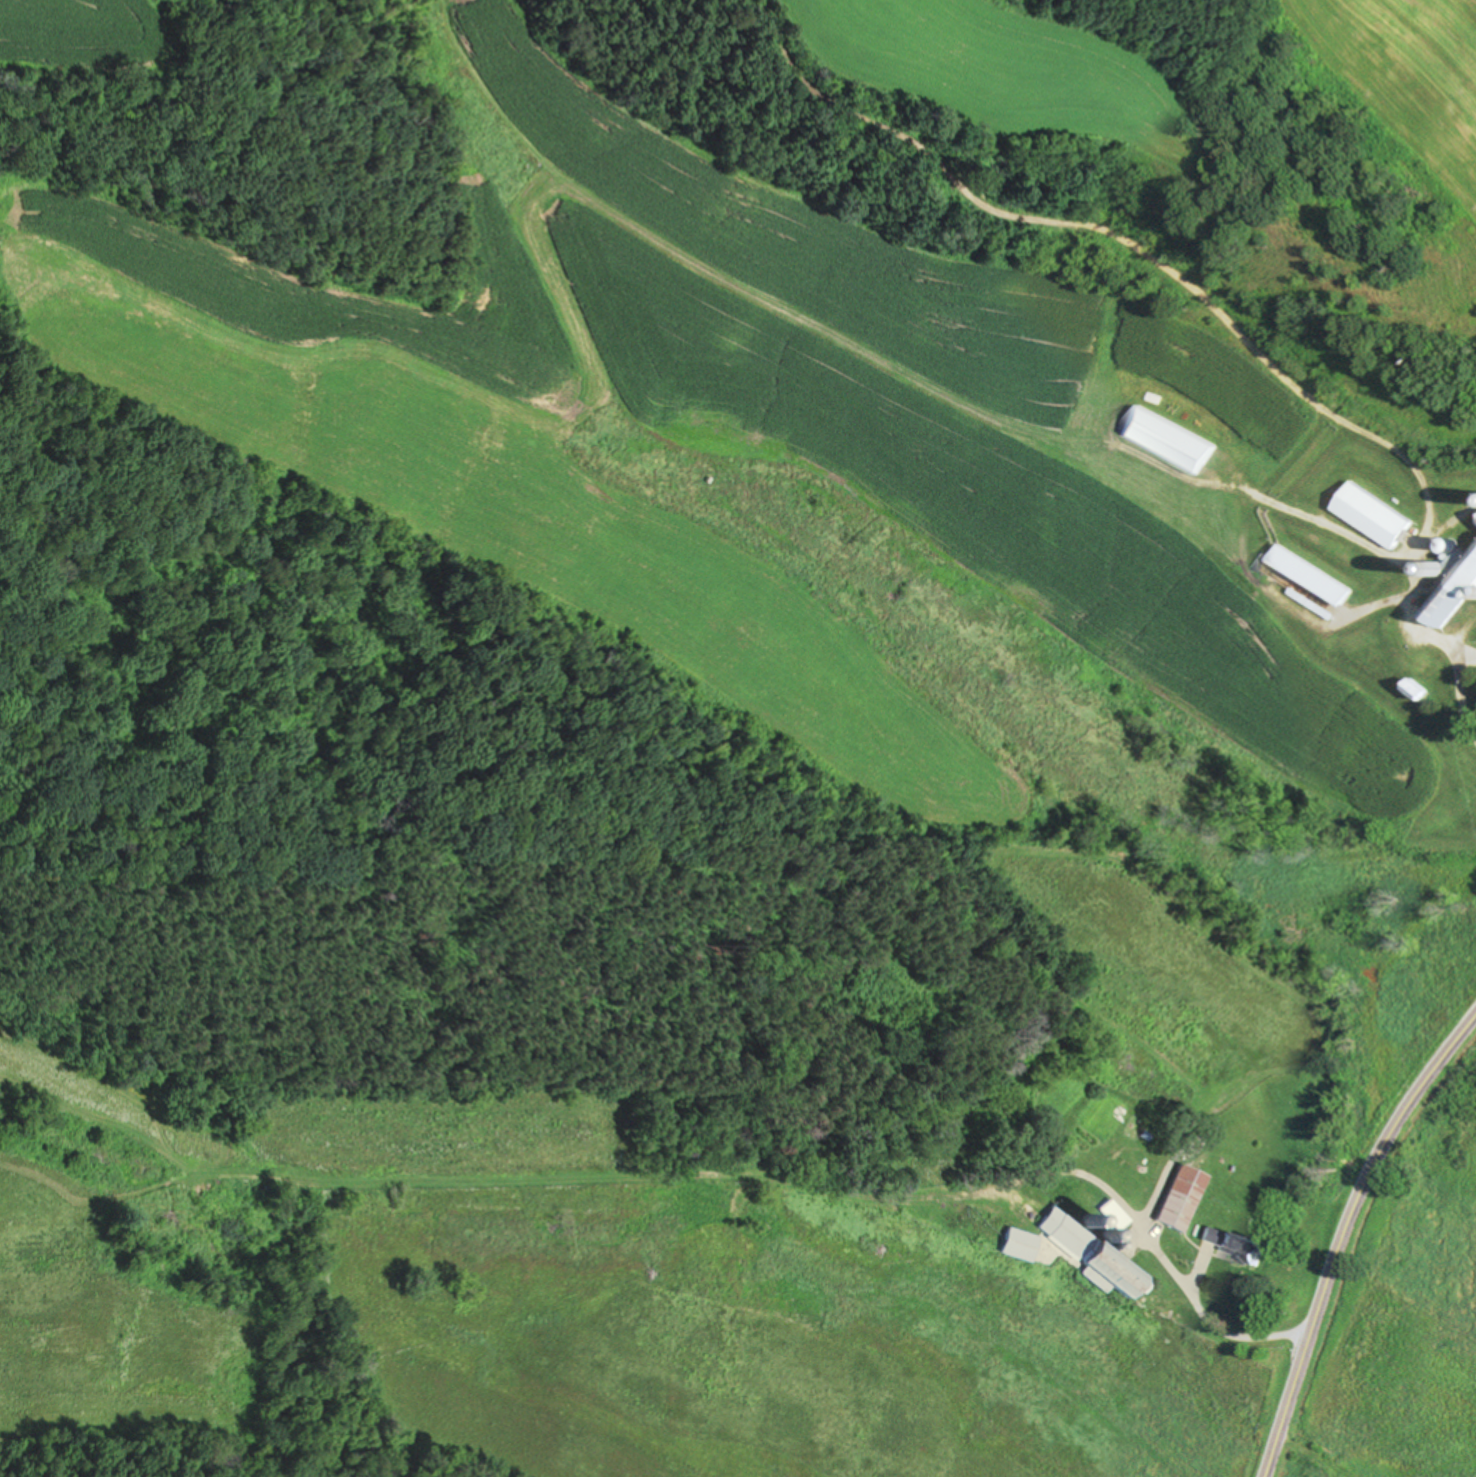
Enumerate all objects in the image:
road: (1133, 251)
building: (1164, 440)
road: (1300, 461)
building: (1368, 515)
building: (1475, 524)
road: (1242, 534)
building: (1307, 574)
building: (1453, 590)
road: (1463, 660)
building: (1413, 689)
building: (1179, 1195)
building: (1112, 1212)
road: (1345, 1234)
building: (1230, 1241)
building: (1017, 1242)
building: (1090, 1252)
road: (1194, 1297)

